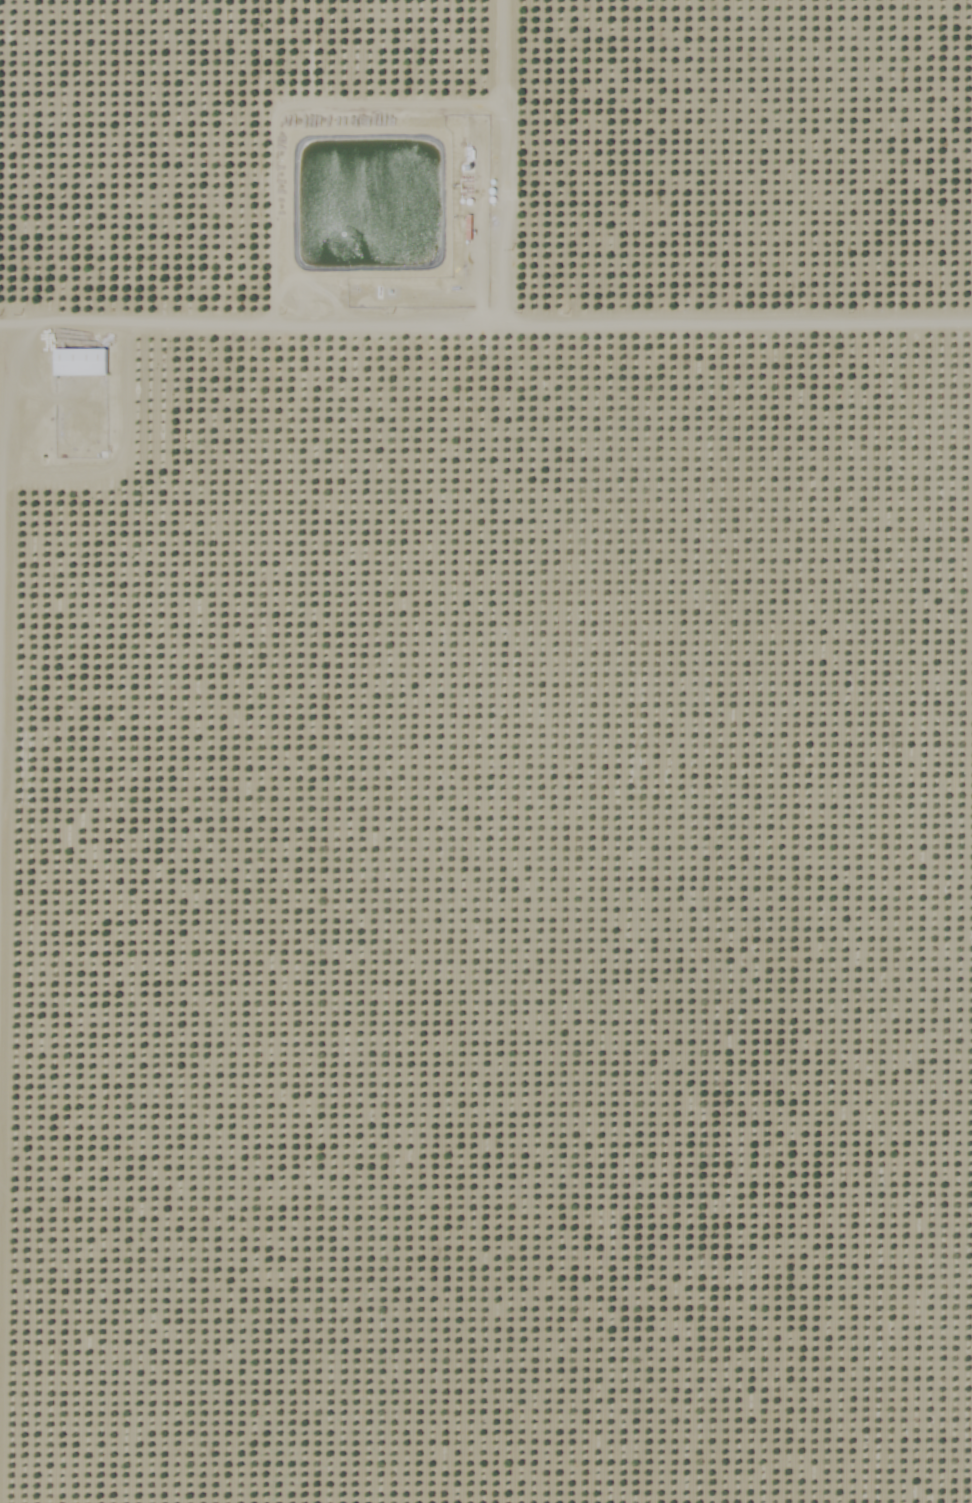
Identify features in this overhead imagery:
crop: (482, 166)
building: (79, 360)
crop: (486, 917)

